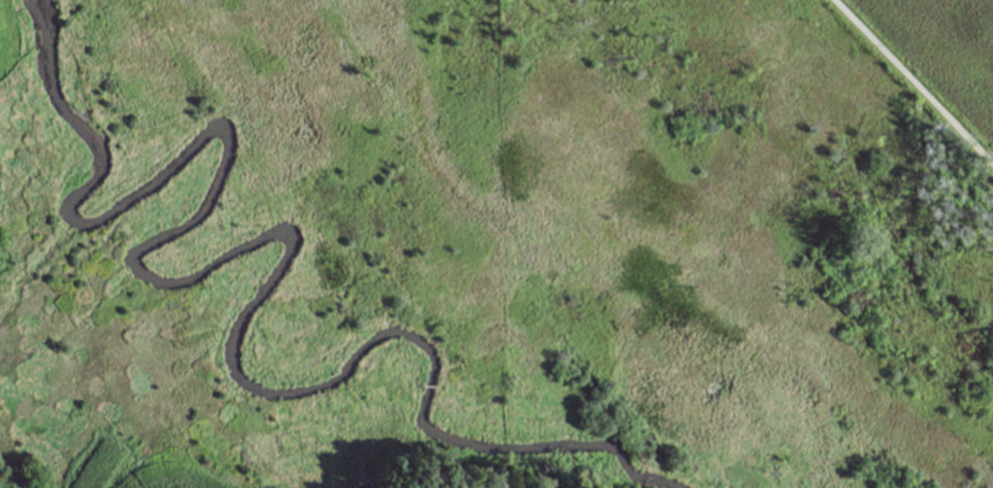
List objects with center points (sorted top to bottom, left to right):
road: (912, 83)
crop: (1, 269)

